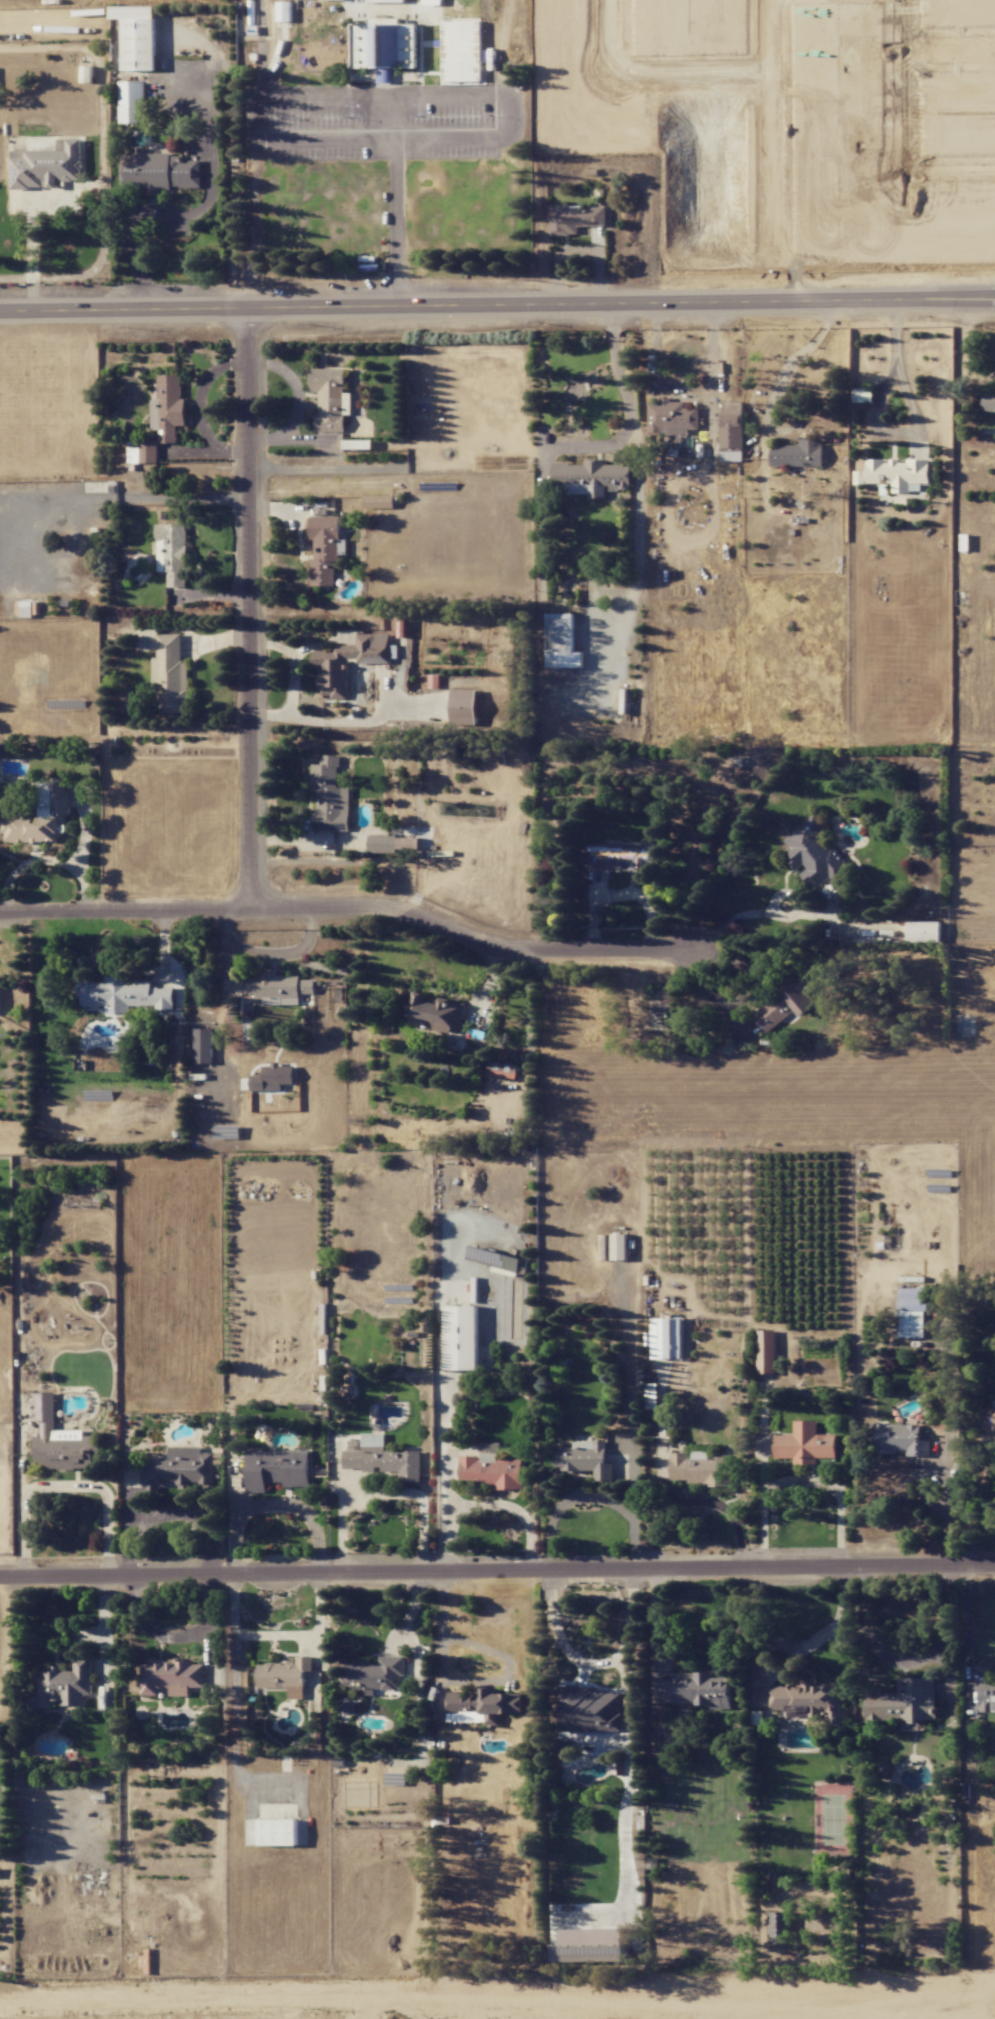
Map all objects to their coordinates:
building: (384, 1)
building: (432, 2)
building: (284, 11)
building: (137, 36)
building: (384, 44)
building: (87, 74)
road: (450, 93)
building: (132, 102)
road: (397, 117)
building: (47, 165)
building: (157, 173)
road: (52, 202)
road: (144, 211)
building: (575, 218)
road: (33, 247)
road: (497, 302)
road: (795, 358)
building: (862, 395)
building: (330, 399)
building: (988, 402)
building: (168, 407)
building: (671, 417)
road: (874, 420)
road: (629, 424)
building: (731, 437)
building: (142, 452)
building: (798, 454)
building: (894, 473)
building: (589, 477)
building: (378, 501)
building: (325, 549)
building: (172, 553)
road: (250, 606)
building: (24, 609)
building: (561, 642)
building: (329, 665)
building: (170, 675)
building: (434, 681)
building: (464, 707)
building: (330, 796)
building: (41, 817)
building: (390, 841)
road: (304, 842)
building: (814, 854)
building: (623, 857)
road: (46, 860)
road: (353, 909)
road: (738, 917)
building: (923, 931)
road: (264, 955)
building: (276, 987)
building: (124, 995)
building: (0, 1000)
building: (785, 1002)
building: (436, 1013)
building: (203, 1045)
building: (501, 1070)
building: (273, 1078)
building: (619, 1246)
building: (494, 1259)
building: (912, 1312)
building: (461, 1338)
building: (666, 1338)
building: (766, 1351)
building: (994, 1415)
building: (900, 1440)
building: (62, 1441)
building: (805, 1444)
building: (383, 1459)
building: (586, 1459)
building: (179, 1469)
building: (277, 1469)
building: (490, 1469)
building: (701, 1469)
road: (942, 1474)
road: (66, 1487)
road: (589, 1497)
road: (276, 1504)
road: (488, 1504)
road: (497, 1572)
road: (830, 1630)
road: (968, 1631)
road: (278, 1636)
road: (909, 1660)
building: (374, 1675)
building: (170, 1676)
building: (285, 1676)
road: (469, 1681)
building: (63, 1685)
building: (701, 1689)
building: (987, 1698)
building: (810, 1702)
building: (904, 1703)
building: (482, 1706)
building: (590, 1710)
building: (278, 1832)
building: (780, 1925)
building: (589, 1945)

